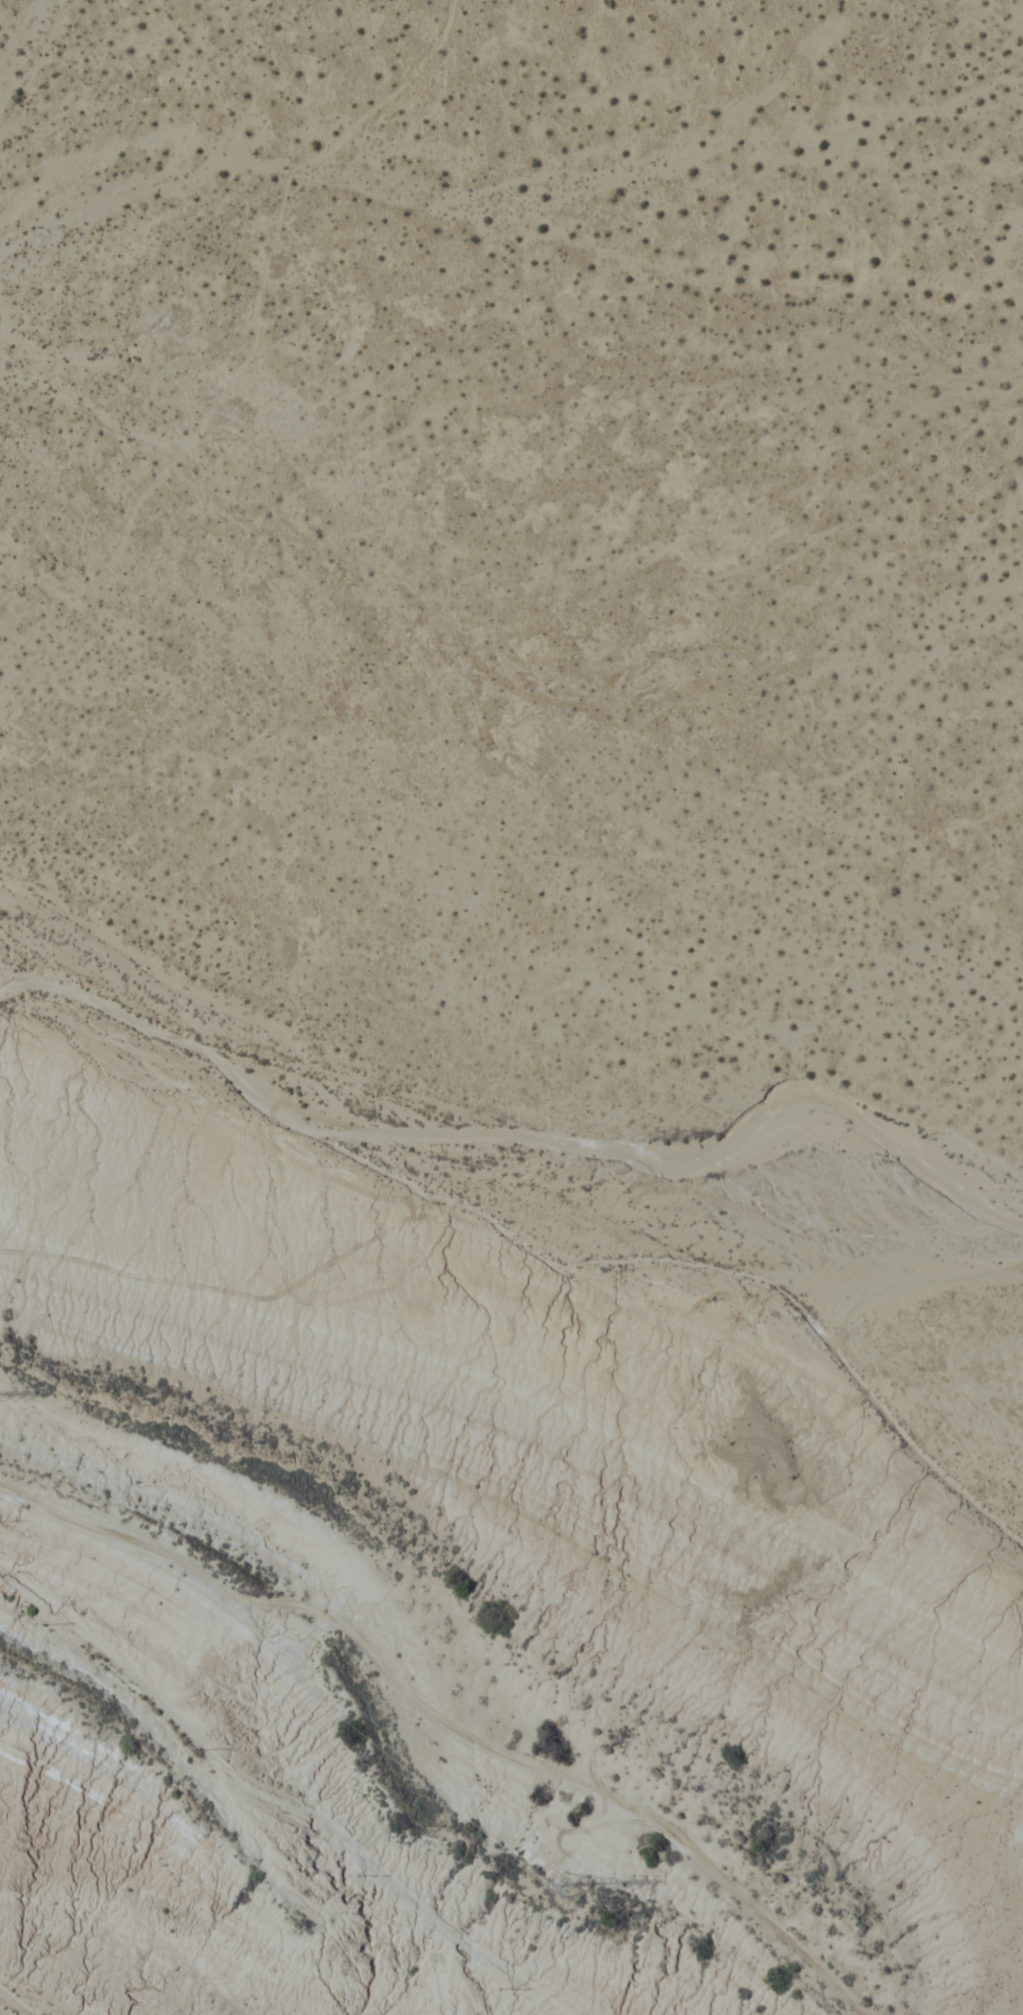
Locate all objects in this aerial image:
power tower: (567, 1896)

